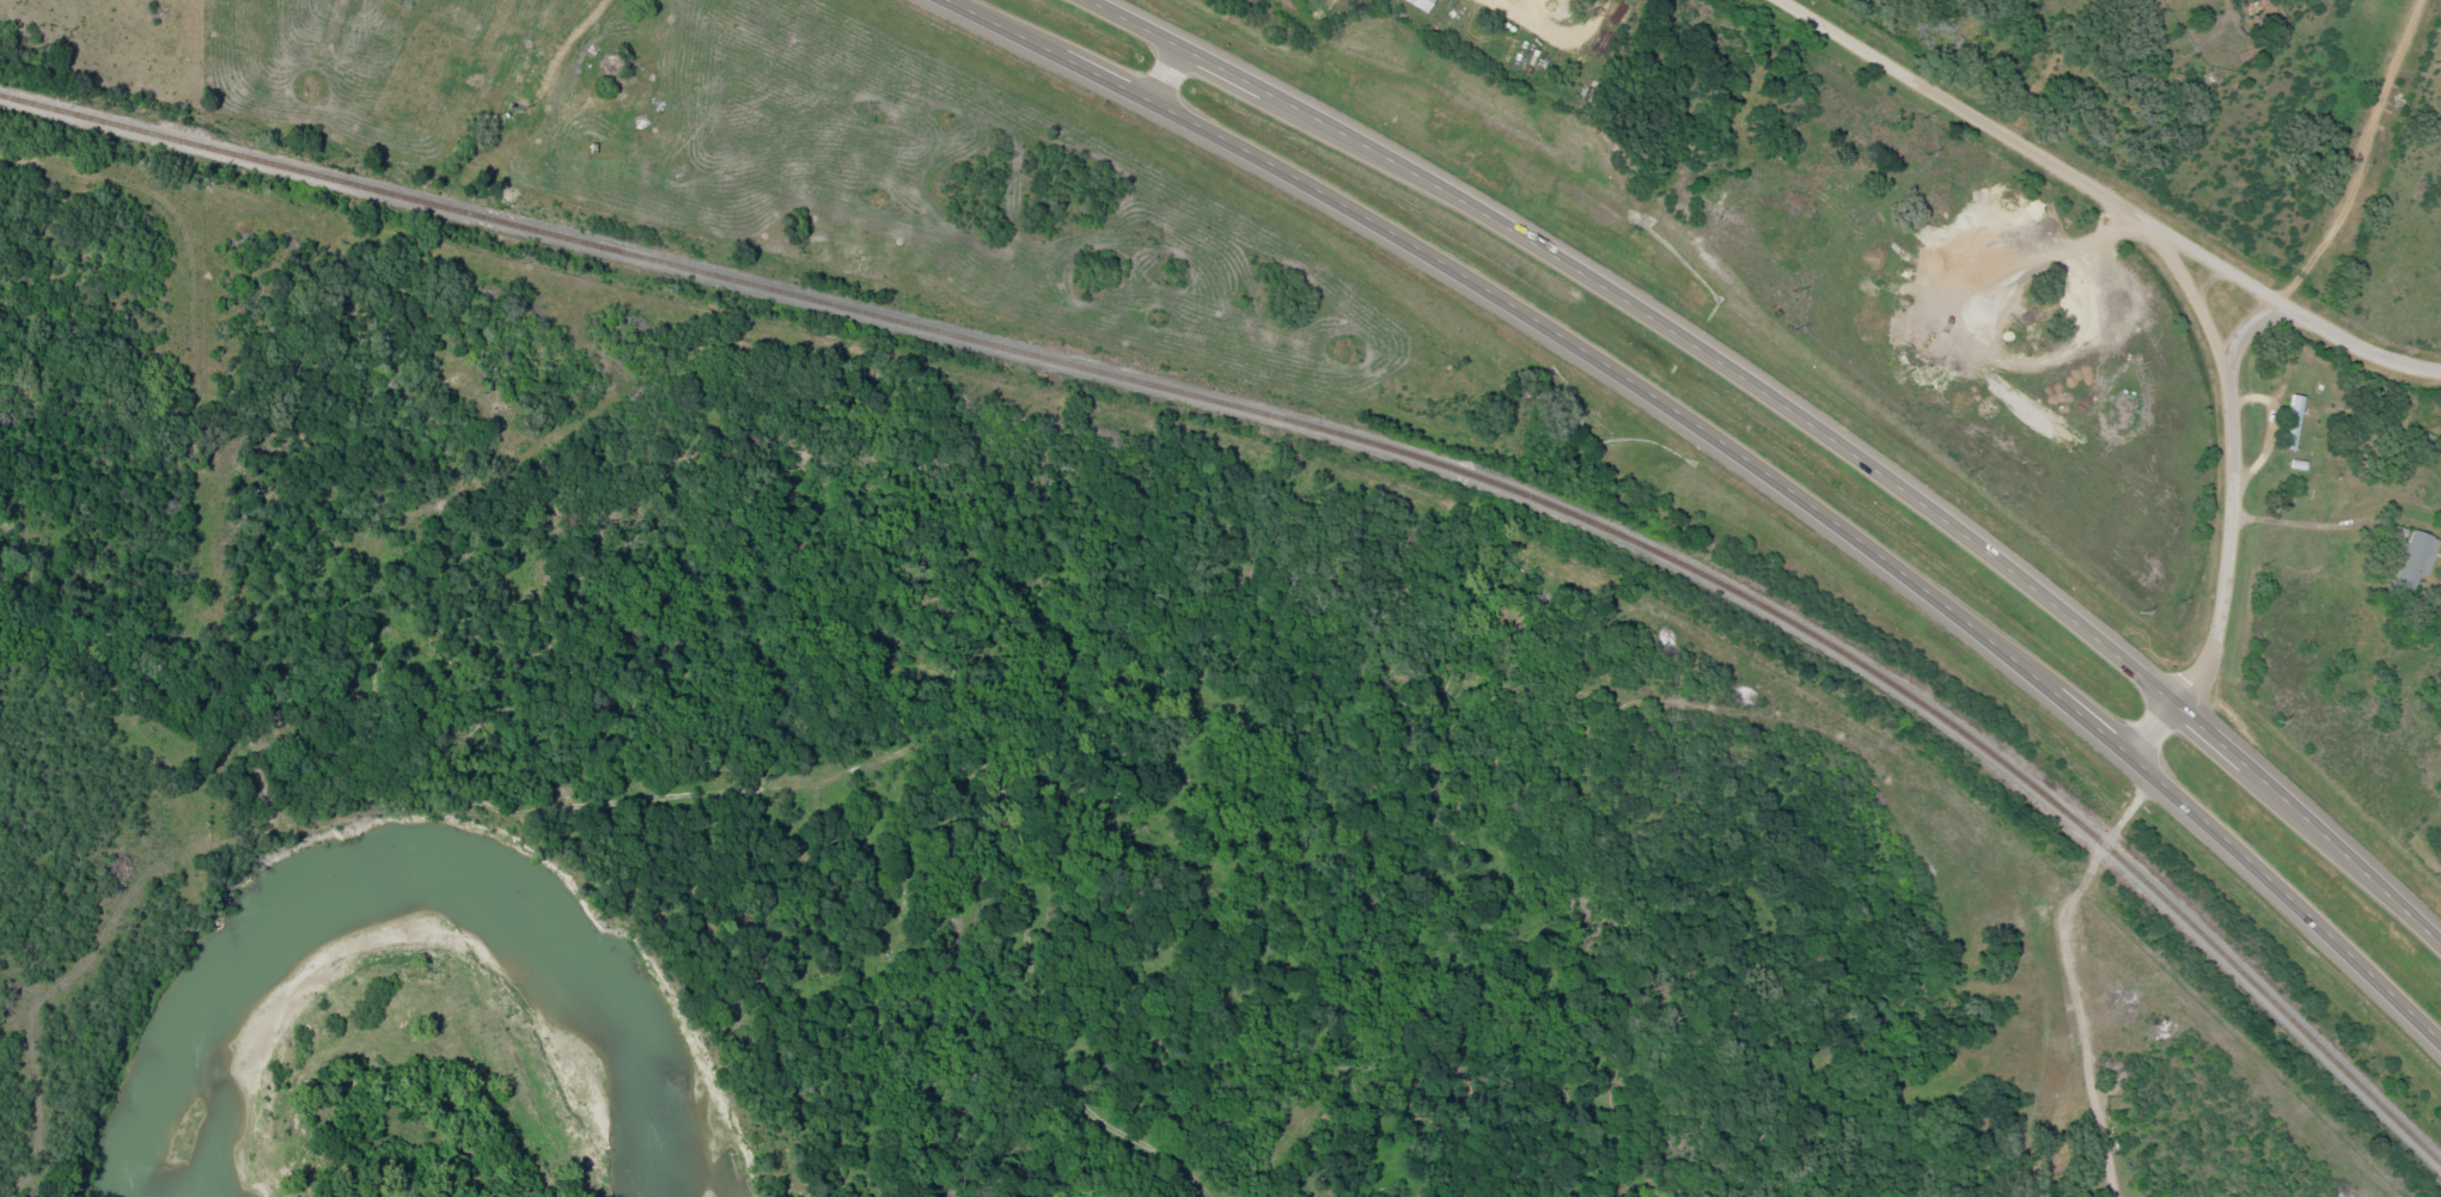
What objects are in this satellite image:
building: (1421, 4)
road: (1158, 77)
road: (2339, 145)
road: (2112, 193)
building: (2296, 408)
road: (1799, 416)
railway: (1318, 433)
road: (2240, 436)
road: (1733, 456)
building: (2416, 560)
road: (2333, 688)
road: (2152, 732)
road: (2110, 831)
river: (391, 905)

